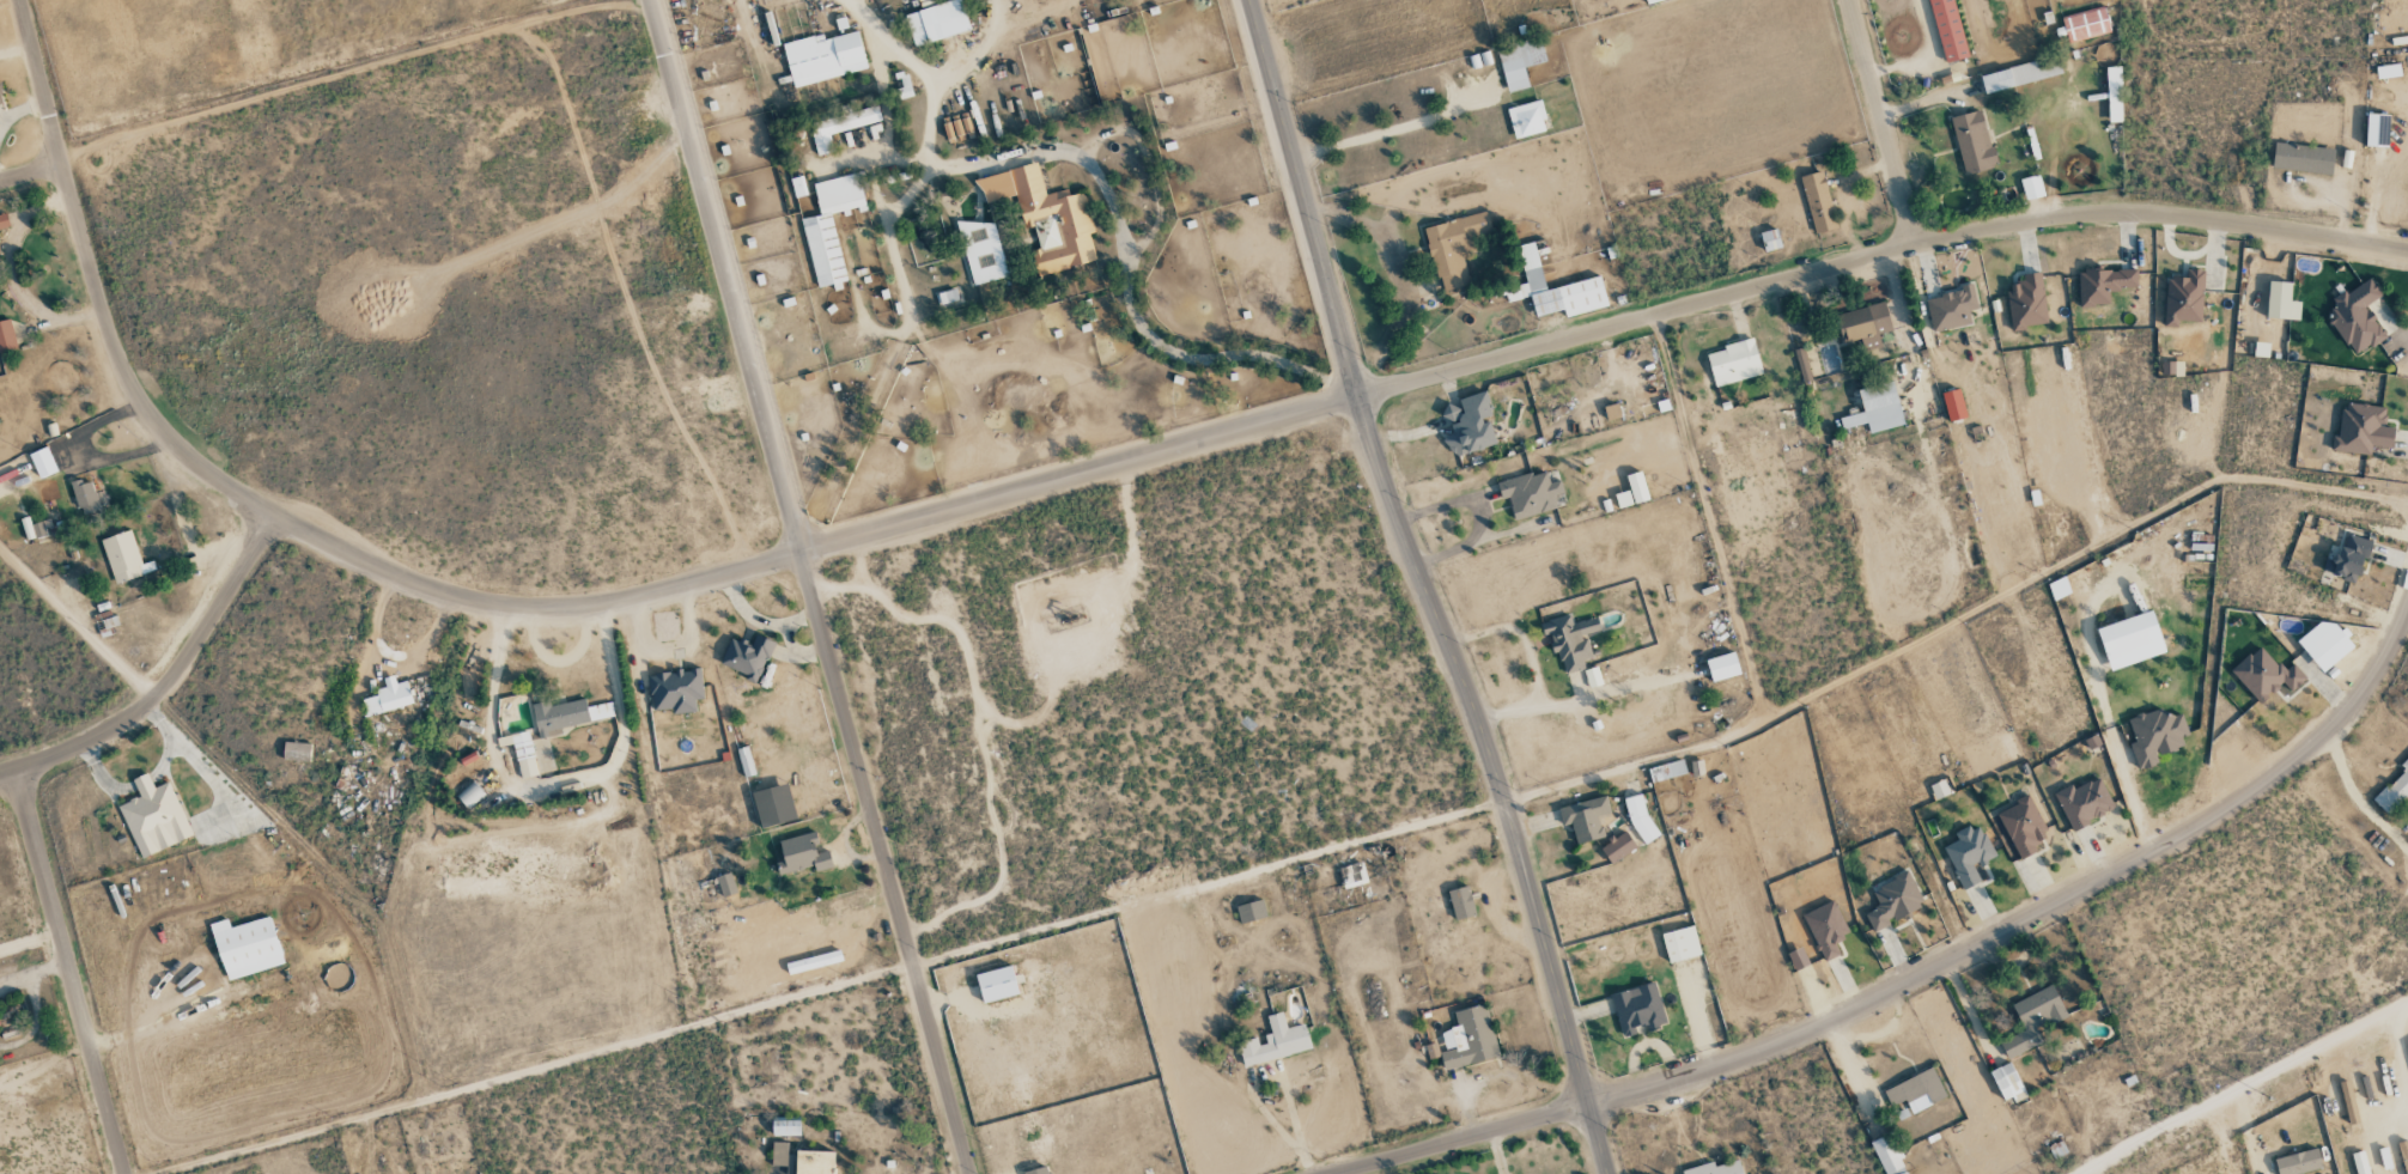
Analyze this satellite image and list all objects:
building: (1652, 1)
building: (936, 22)
building: (2085, 24)
building: (1947, 30)
building: (823, 57)
building: (1519, 61)
building: (2388, 71)
building: (2020, 74)
building: (905, 85)
building: (2114, 95)
building: (0, 99)
building: (1526, 118)
road: (1887, 122)
building: (840, 126)
building: (957, 129)
building: (2377, 129)
building: (1972, 141)
building: (2303, 158)
road: (32, 174)
building: (798, 187)
building: (2031, 187)
building: (1818, 201)
building: (1046, 217)
building: (4, 221)
building: (831, 226)
building: (1770, 239)
building: (1453, 248)
building: (981, 251)
building: (2103, 284)
road: (98, 288)
building: (1555, 288)
building: (949, 297)
building: (2183, 298)
building: (2281, 300)
building: (2026, 302)
building: (1951, 308)
building: (2357, 317)
building: (1863, 324)
building: (6, 335)
building: (2261, 348)
building: (1733, 363)
building: (2172, 367)
road: (1332, 401)
building: (1953, 403)
building: (1875, 408)
building: (1611, 410)
building: (1468, 424)
building: (2361, 428)
building: (42, 462)
building: (1636, 487)
building: (1530, 493)
building: (85, 497)
building: (1623, 498)
building: (34, 529)
building: (123, 556)
building: (2346, 559)
road: (807, 586)
road: (1419, 589)
building: (2130, 639)
building: (1570, 640)
building: (2323, 643)
building: (747, 656)
building: (1722, 665)
building: (2266, 675)
road: (169, 677)
building: (675, 689)
building: (388, 697)
building: (2155, 736)
building: (296, 750)
building: (522, 753)
building: (744, 761)
building: (1666, 771)
building: (1939, 789)
building: (2394, 790)
building: (470, 795)
building: (2082, 802)
building: (153, 816)
building: (1585, 817)
building: (1637, 819)
building: (2023, 826)
building: (1617, 847)
building: (802, 853)
building: (1969, 854)
building: (1352, 875)
building: (725, 884)
building: (1893, 901)
building: (1460, 902)
building: (1251, 911)
building: (1825, 929)
building: (1680, 944)
building: (245, 947)
road: (73, 969)
road: (1920, 973)
building: (996, 984)
building: (1638, 1009)
building: (2032, 1020)
building: (1468, 1039)
building: (1275, 1042)
building: (2067, 1048)
building: (2007, 1082)
road: (2243, 1087)
building: (1916, 1091)
building: (2347, 1097)
building: (785, 1129)
building: (2403, 1149)
building: (1887, 1155)
building: (802, 1160)
building: (2298, 1162)
building: (2360, 1162)
building: (1715, 1168)
building: (1036, 1170)

